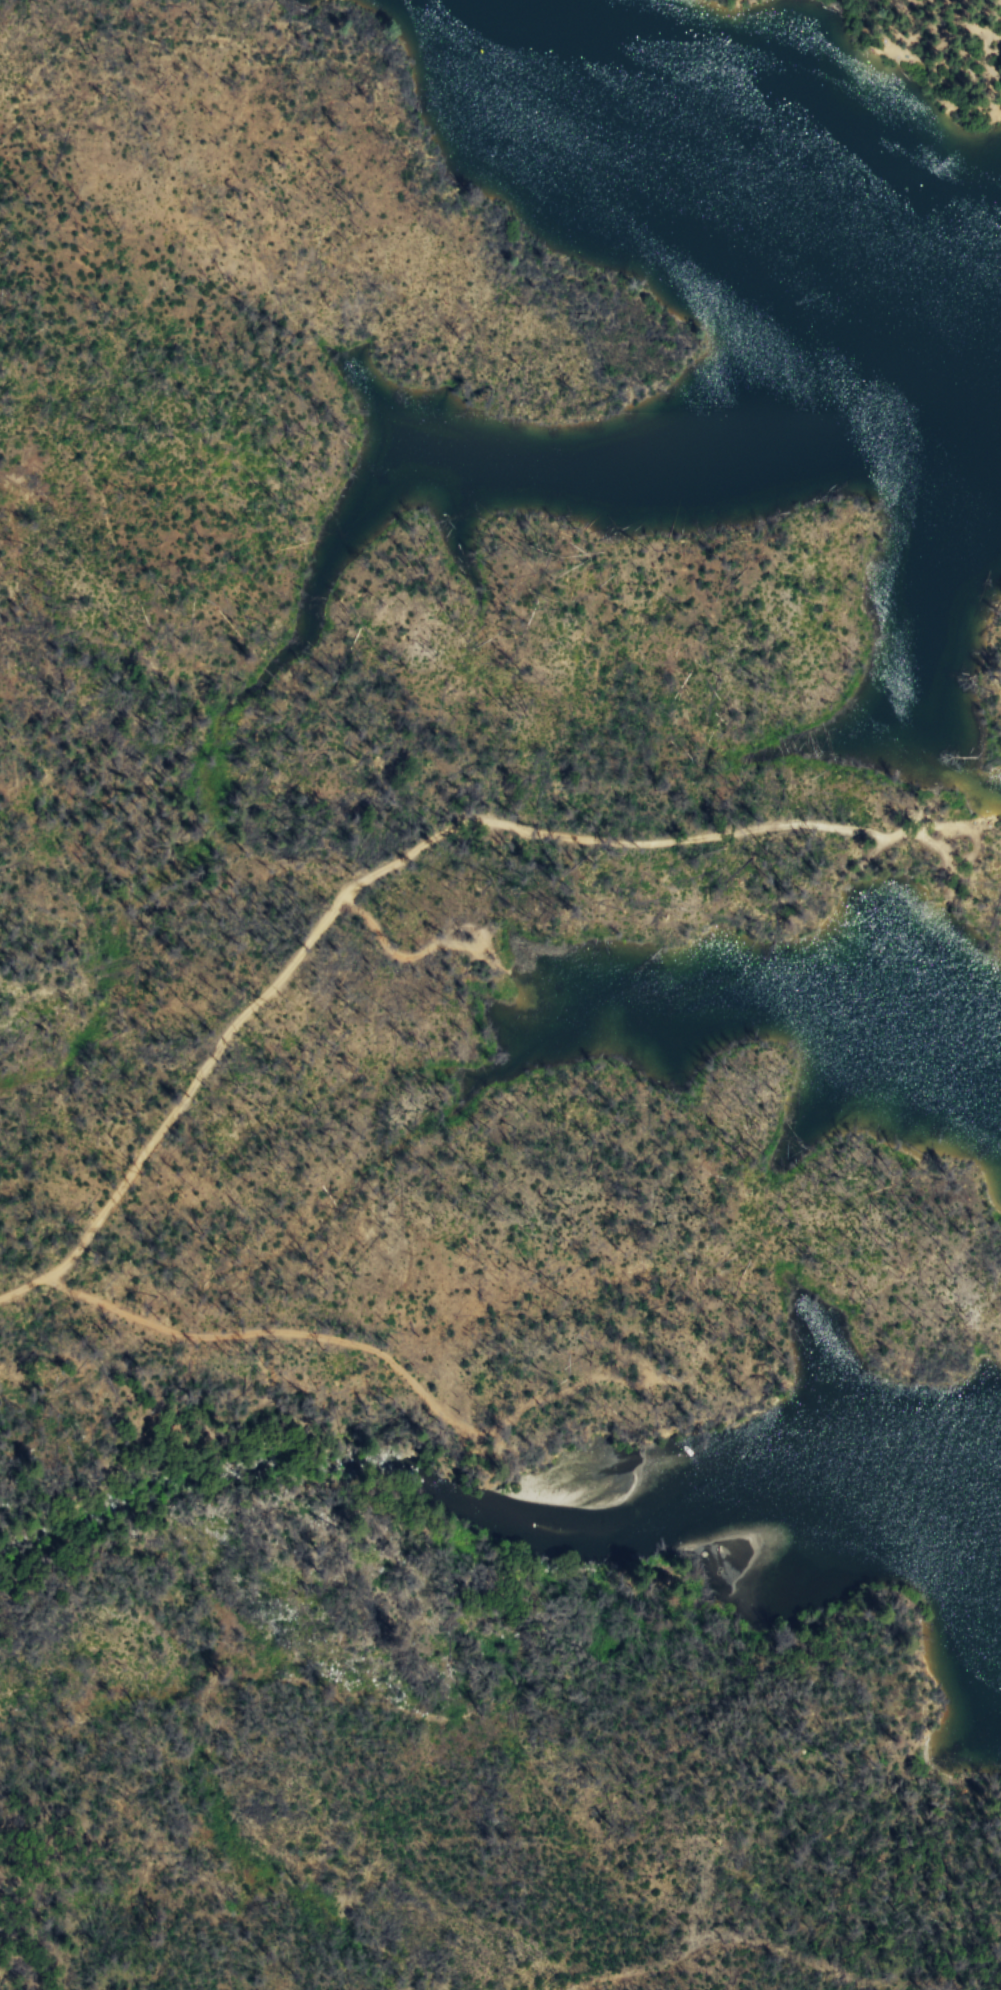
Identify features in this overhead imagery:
road: (360, 888)

